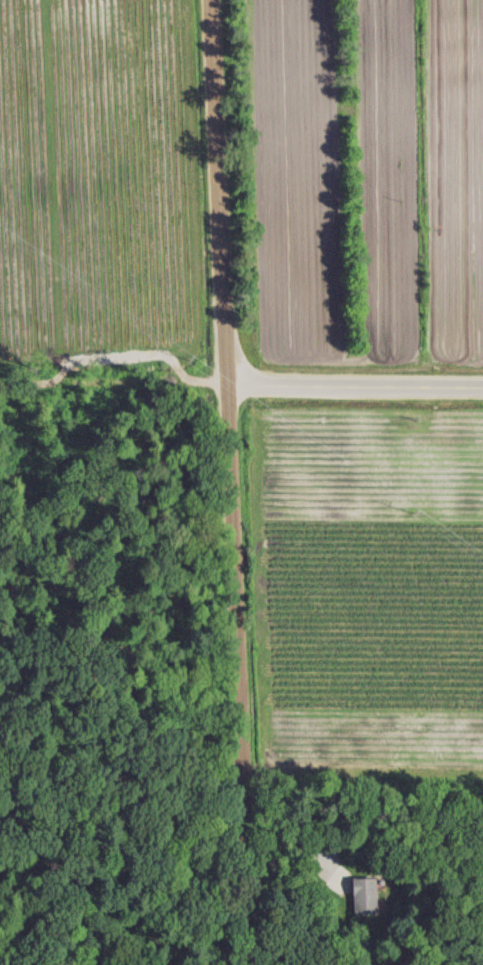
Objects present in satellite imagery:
road: (355, 384)
road: (232, 482)
road: (292, 838)
building: (362, 896)

